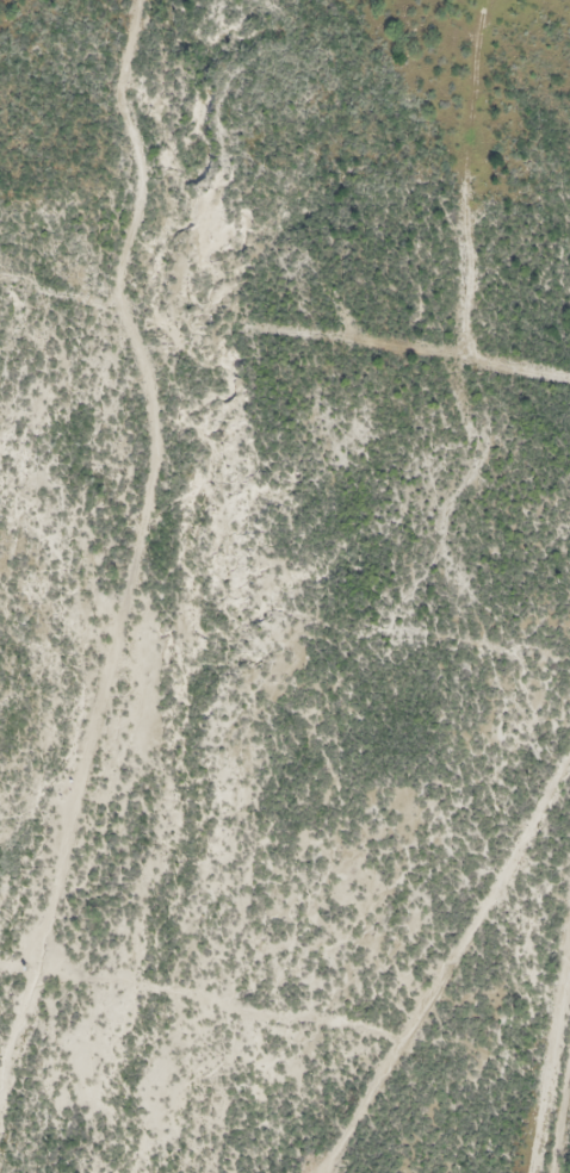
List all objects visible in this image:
road: (549, 1109)

